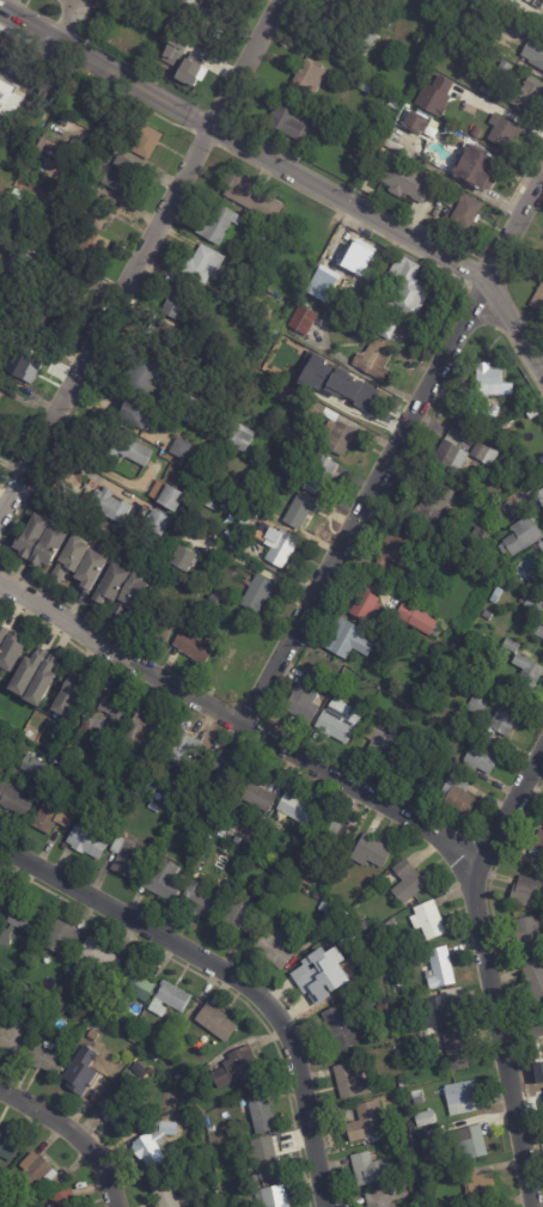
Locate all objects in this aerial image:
building: (212, 0)
building: (504, 0)
building: (450, 1)
building: (188, 17)
road: (67, 20)
building: (367, 30)
building: (532, 54)
building: (183, 57)
building: (504, 69)
building: (189, 73)
building: (309, 75)
building: (5, 93)
building: (434, 95)
building: (523, 95)
building: (395, 102)
building: (454, 109)
building: (293, 121)
building: (414, 122)
building: (358, 123)
building: (384, 123)
building: (429, 130)
building: (504, 132)
building: (144, 140)
building: (391, 146)
building: (49, 150)
building: (22, 158)
building: (476, 166)
road: (291, 170)
building: (54, 171)
building: (121, 175)
building: (405, 182)
building: (251, 196)
building: (464, 213)
building: (215, 222)
building: (96, 233)
building: (266, 244)
road: (139, 256)
building: (348, 258)
building: (255, 263)
building: (16, 264)
building: (201, 266)
building: (304, 280)
building: (219, 288)
building: (407, 288)
building: (234, 297)
building: (538, 298)
building: (176, 300)
building: (358, 318)
building: (301, 321)
building: (63, 323)
building: (385, 325)
building: (159, 340)
building: (20, 360)
building: (372, 360)
building: (338, 374)
building: (144, 377)
building: (490, 380)
building: (275, 385)
building: (1, 389)
building: (283, 394)
building: (356, 398)
building: (184, 409)
building: (313, 412)
building: (135, 415)
building: (482, 415)
building: (239, 438)
building: (336, 440)
building: (127, 449)
building: (179, 449)
road: (393, 450)
building: (450, 453)
building: (483, 455)
road: (98, 463)
building: (317, 471)
building: (158, 488)
building: (539, 496)
building: (167, 499)
building: (108, 506)
building: (434, 506)
building: (299, 511)
building: (484, 511)
building: (154, 524)
building: (480, 534)
building: (28, 536)
building: (520, 538)
building: (49, 544)
building: (541, 547)
building: (280, 549)
building: (396, 550)
building: (69, 556)
building: (183, 559)
building: (89, 571)
building: (173, 574)
building: (211, 577)
building: (109, 584)
building: (129, 593)
building: (256, 593)
building: (214, 599)
building: (530, 603)
building: (365, 605)
building: (487, 615)
building: (415, 618)
building: (157, 626)
building: (2, 630)
building: (537, 633)
building: (344, 640)
building: (511, 646)
building: (194, 647)
building: (8, 651)
building: (236, 665)
building: (527, 672)
building: (23, 673)
building: (39, 683)
building: (71, 693)
building: (303, 700)
building: (476, 706)
building: (114, 711)
road: (239, 720)
building: (336, 720)
building: (500, 724)
building: (89, 727)
building: (144, 729)
building: (112, 739)
building: (466, 739)
building: (379, 742)
building: (181, 749)
building: (425, 751)
building: (26, 754)
building: (117, 754)
building: (478, 762)
building: (401, 764)
building: (35, 767)
building: (109, 769)
building: (222, 773)
building: (92, 775)
building: (0, 778)
building: (100, 782)
building: (256, 794)
building: (456, 797)
building: (169, 800)
building: (13, 803)
building: (152, 809)
building: (294, 809)
building: (228, 815)
building: (51, 816)
building: (542, 822)
building: (542, 824)
building: (222, 825)
building: (325, 831)
building: (84, 842)
building: (537, 846)
building: (370, 854)
building: (123, 857)
building: (160, 880)
building: (407, 883)
building: (307, 884)
building: (305, 892)
building: (527, 895)
building: (315, 897)
building: (201, 898)
building: (2, 907)
building: (324, 907)
building: (233, 918)
building: (427, 921)
building: (24, 925)
building: (362, 926)
building: (526, 935)
building: (60, 939)
building: (273, 947)
building: (94, 961)
building: (439, 969)
road: (490, 970)
road: (231, 971)
building: (321, 975)
building: (533, 979)
building: (134, 983)
building: (24, 992)
building: (96, 996)
building: (167, 1000)
building: (89, 1010)
building: (382, 1010)
building: (443, 1013)
building: (214, 1023)
building: (341, 1025)
road: (521, 1026)
building: (14, 1035)
building: (96, 1051)
building: (456, 1051)
building: (43, 1059)
building: (237, 1071)
building: (141, 1072)
building: (83, 1080)
building: (348, 1083)
building: (401, 1086)
building: (193, 1091)
building: (416, 1098)
building: (460, 1099)
building: (260, 1115)
building: (114, 1116)
building: (425, 1120)
building: (366, 1123)
building: (209, 1130)
building: (410, 1132)
road: (72, 1134)
building: (420, 1135)
building: (468, 1141)
building: (152, 1146)
building: (5, 1150)
building: (202, 1153)
building: (264, 1159)
building: (368, 1170)
building: (33, 1171)
building: (475, 1185)
building: (161, 1193)
building: (385, 1197)
building: (270, 1199)
building: (63, 1200)
building: (487, 1206)

